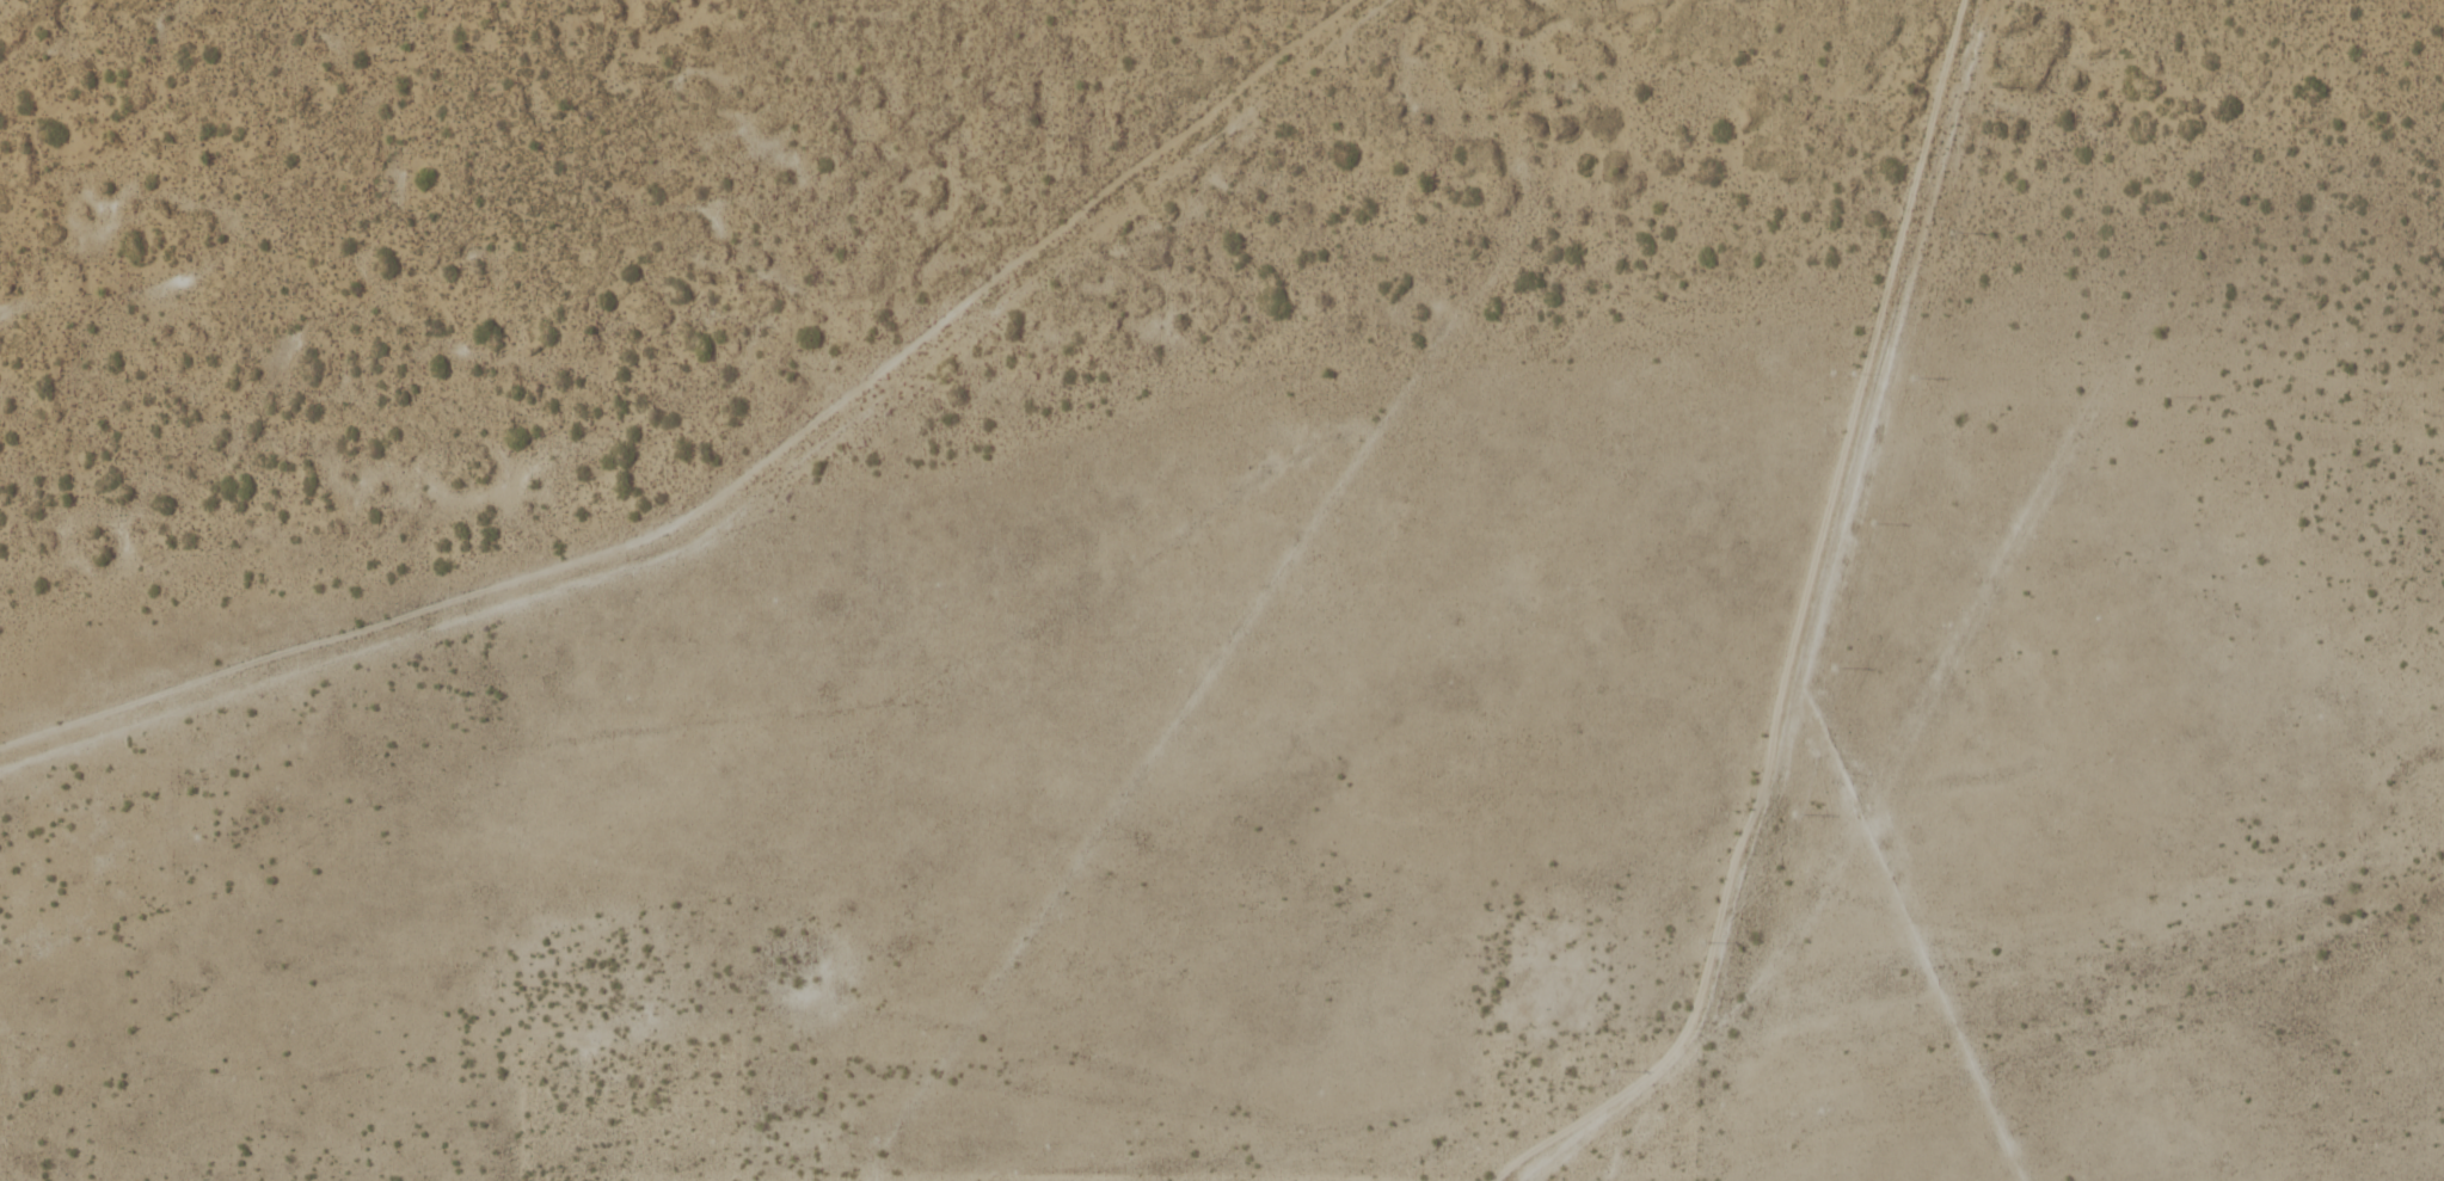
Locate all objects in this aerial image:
road: (1797, 636)
road: (858, 1180)

